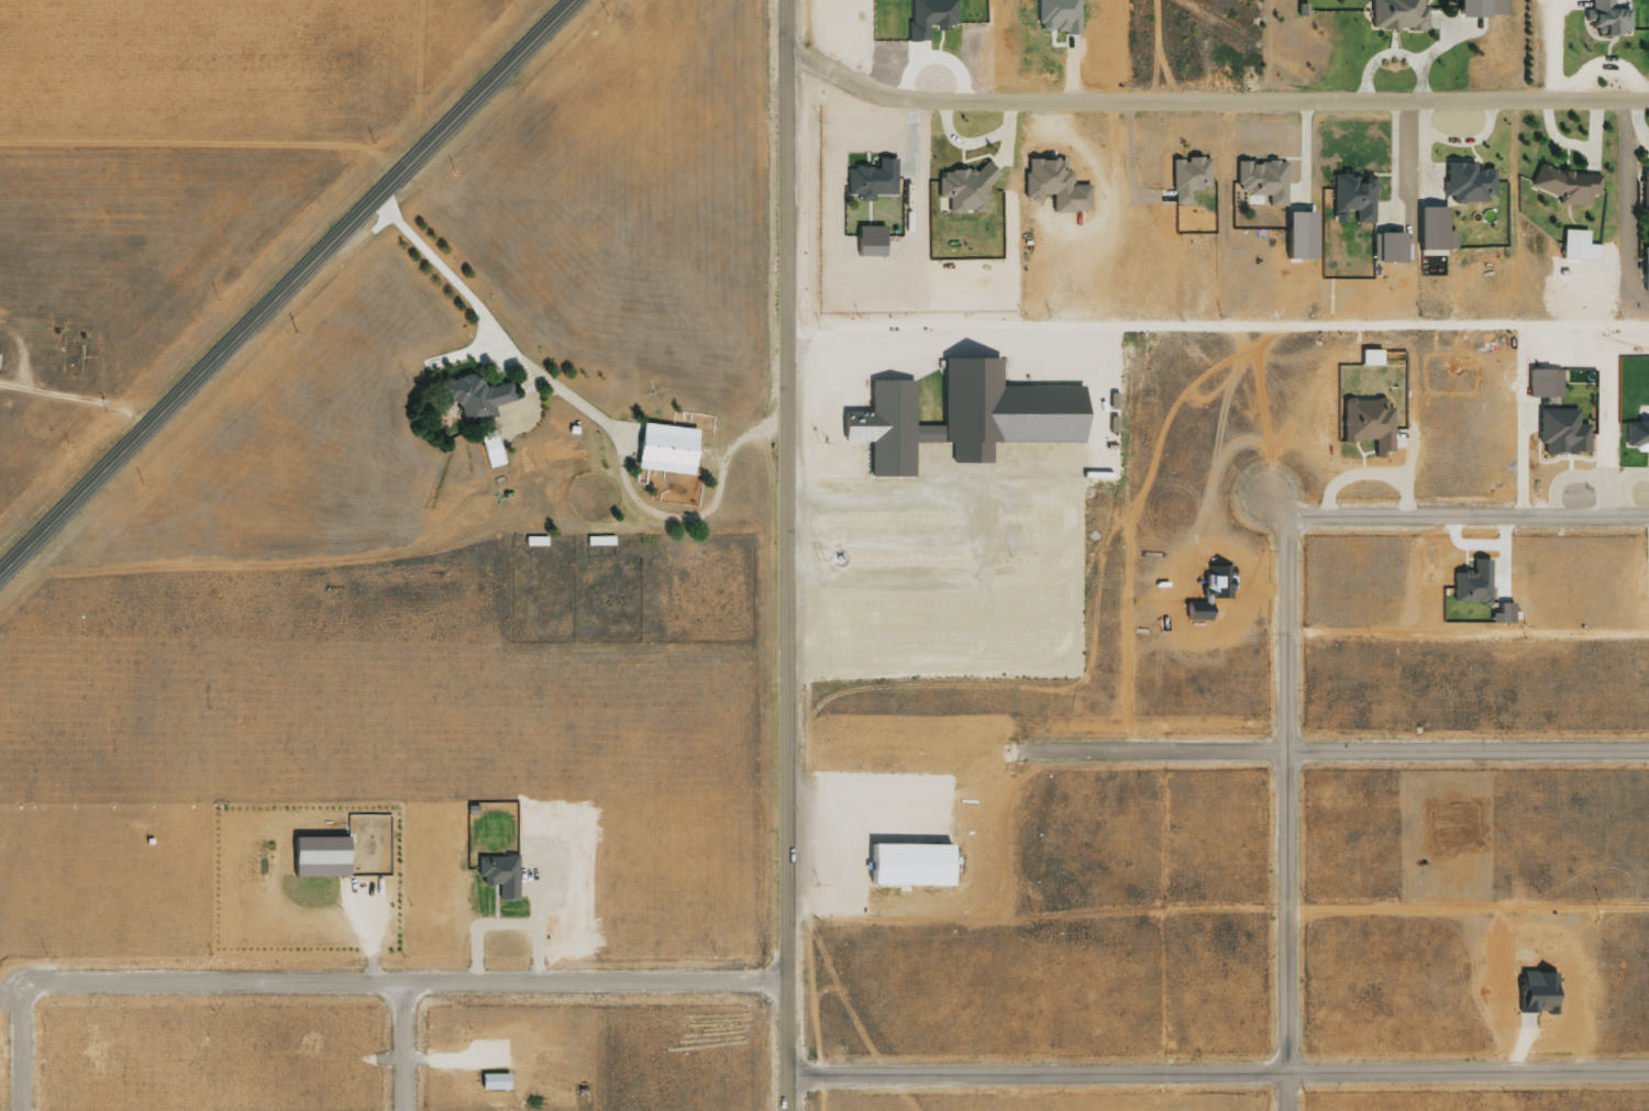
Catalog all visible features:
road: (1425, 2)
road: (1362, 4)
road: (1425, 9)
building: (1476, 9)
road: (1619, 12)
road: (1366, 13)
building: (931, 14)
building: (1397, 15)
building: (1058, 16)
building: (1603, 19)
road: (1398, 27)
road: (1628, 34)
road: (1472, 38)
road: (1390, 41)
road: (1604, 51)
road: (1149, 52)
road: (1241, 52)
road: (1067, 69)
road: (1160, 74)
road: (1209, 103)
road: (1305, 103)
road: (1634, 103)
road: (917, 116)
road: (1625, 119)
road: (1597, 133)
road: (1009, 144)
road: (200, 148)
road: (860, 148)
road: (1399, 148)
road: (864, 152)
road: (1468, 155)
road: (974, 159)
road: (959, 160)
road: (1563, 160)
road: (1271, 162)
road: (865, 163)
road: (868, 165)
road: (1478, 165)
road: (1125, 170)
road: (1417, 174)
road: (1369, 178)
building: (1187, 180)
building: (1259, 181)
building: (870, 182)
building: (1467, 184)
building: (1563, 186)
building: (1052, 187)
building: (965, 191)
building: (1644, 195)
road: (1098, 196)
building: (1351, 198)
road: (874, 201)
road: (1637, 202)
road: (1463, 203)
road: (1561, 204)
road: (866, 216)
road: (1565, 222)
road: (385, 223)
building: (1431, 229)
building: (870, 243)
building: (1387, 248)
building: (1576, 251)
building: (1644, 270)
road: (283, 284)
road: (508, 284)
road: (564, 295)
road: (1215, 322)
road: (563, 332)
road: (959, 335)
road: (961, 343)
building: (1366, 356)
road: (1075, 358)
road: (993, 368)
road: (832, 380)
building: (1541, 382)
building: (474, 399)
road: (71, 402)
road: (835, 410)
building: (963, 414)
road: (580, 415)
road: (1116, 418)
road: (527, 422)
building: (1373, 426)
building: (1636, 434)
road: (992, 441)
road: (866, 446)
building: (489, 448)
building: (666, 449)
road: (1077, 462)
road: (986, 466)
road: (1006, 498)
road: (1462, 508)
road: (694, 518)
road: (798, 533)
road: (1021, 538)
road: (783, 555)
road: (1042, 557)
road: (350, 564)
parking lot: (936, 569)
road: (950, 573)
road: (888, 579)
road: (1078, 581)
building: (1471, 584)
road: (1059, 597)
building: (1499, 613)
road: (920, 616)
road: (1463, 636)
road: (920, 656)
road: (1040, 680)
road: (901, 681)
road: (879, 689)
road: (1464, 744)
road: (1150, 748)
road: (896, 806)
road: (1280, 809)
road: (863, 816)
road: (910, 843)
road: (535, 846)
parking lot: (850, 852)
road: (798, 854)
building: (322, 857)
road: (841, 866)
road: (868, 866)
building: (910, 866)
road: (953, 866)
building: (497, 877)
road: (810, 889)
road: (844, 889)
road: (910, 889)
road: (1465, 902)
road: (335, 908)
road: (1033, 913)
road: (846, 923)
road: (366, 929)
road: (402, 976)
road: (819, 985)
road: (808, 996)
road: (838, 997)
road: (19, 1044)
road: (401, 1044)
road: (1217, 1073)
building: (498, 1080)

